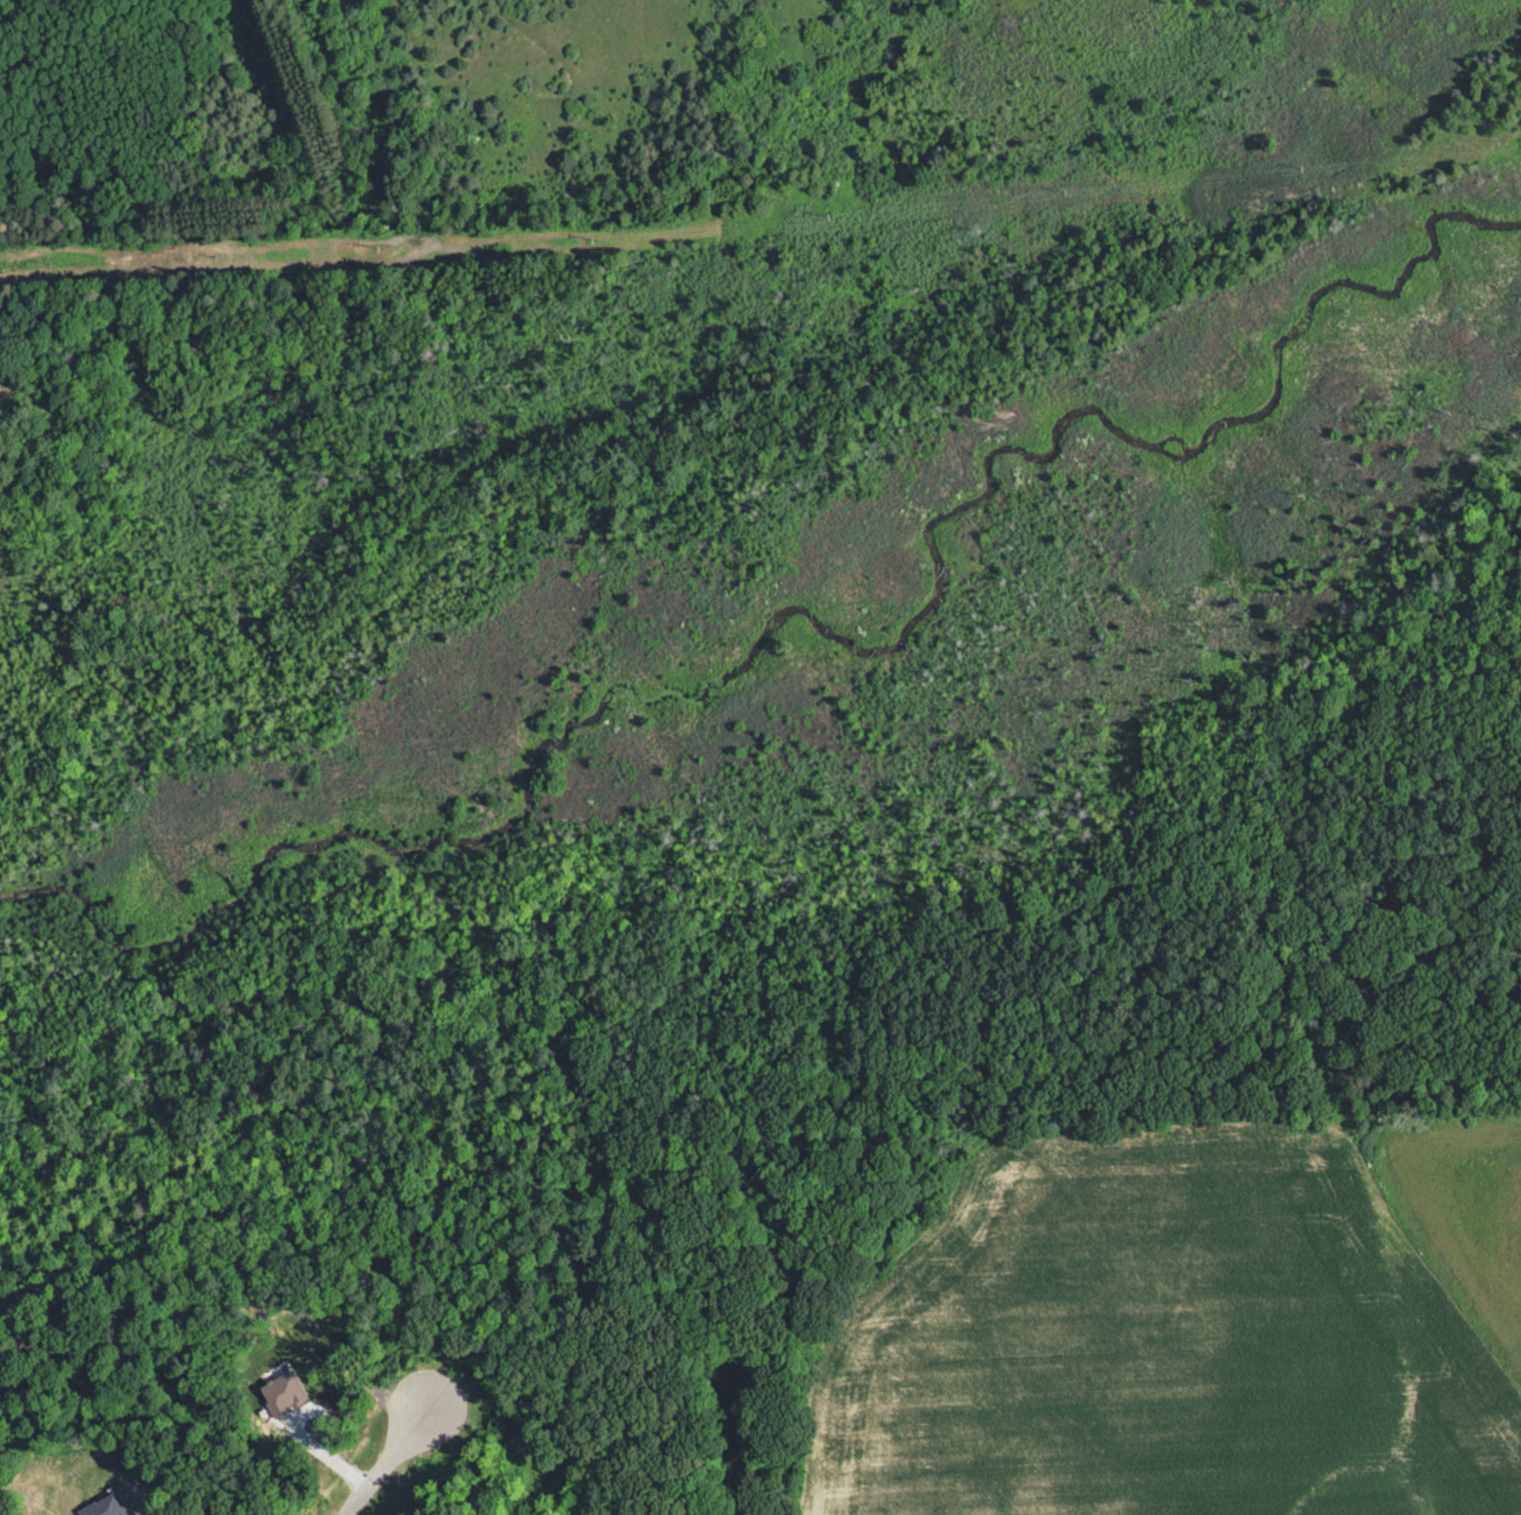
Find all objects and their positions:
road: (385, 1460)

